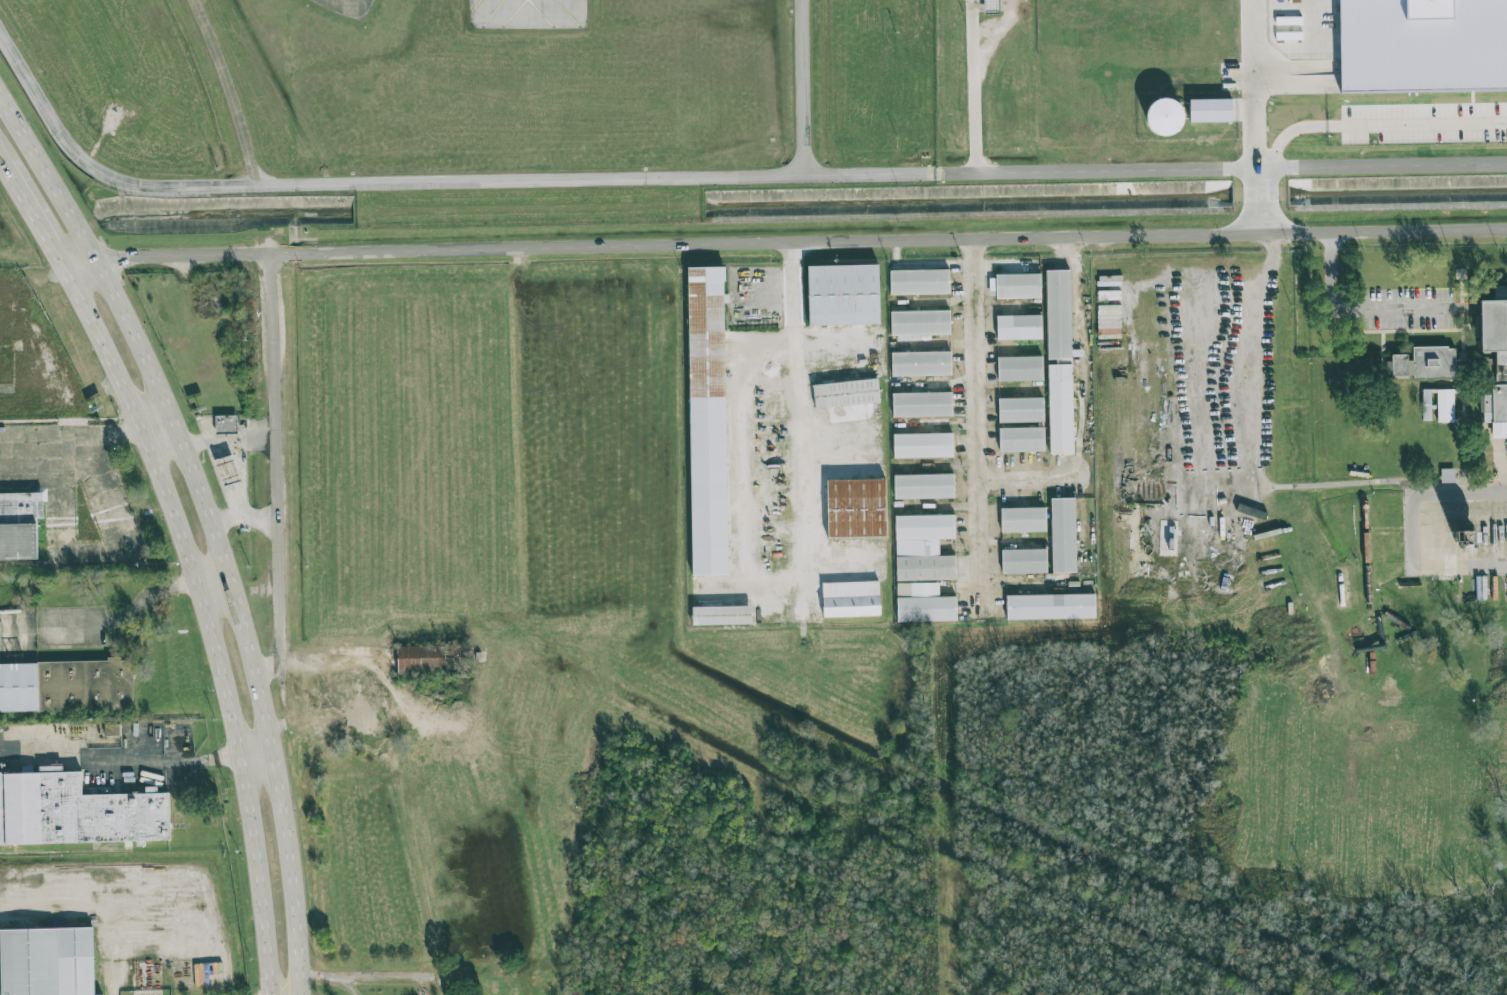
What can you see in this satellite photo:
building: (991, 6)
road: (997, 38)
building: (1422, 44)
road: (1259, 83)
road: (973, 86)
road: (802, 87)
road: (234, 89)
building: (1210, 110)
airport: (737, 115)
building: (1163, 116)
road: (1374, 125)
road: (5, 154)
road: (1383, 165)
road: (94, 167)
road: (1096, 169)
road: (869, 174)
road: (530, 179)
road: (1260, 199)
road: (40, 214)
road: (888, 237)
road: (170, 253)
building: (919, 282)
building: (1014, 286)
building: (843, 295)
road: (1385, 313)
building: (1058, 314)
building: (919, 323)
building: (1019, 327)
road: (829, 354)
building: (1494, 359)
building: (921, 363)
building: (1424, 363)
building: (1019, 368)
building: (845, 393)
building: (922, 404)
building: (1426, 405)
building: (1445, 405)
building: (1060, 409)
building: (1020, 410)
road: (811, 420)
building: (707, 421)
road: (982, 422)
building: (226, 423)
road: (164, 428)
road: (814, 431)
road: (22, 437)
road: (1250, 438)
building: (1021, 439)
road: (233, 440)
building: (923, 445)
road: (760, 449)
road: (277, 468)
building: (227, 470)
building: (1447, 475)
road: (1029, 481)
building: (923, 486)
road: (226, 499)
building: (856, 507)
road: (216, 517)
road: (225, 517)
building: (1023, 519)
building: (19, 526)
road: (68, 526)
road: (1410, 530)
road: (788, 534)
building: (1063, 535)
building: (923, 547)
building: (1024, 561)
road: (224, 594)
building: (850, 599)
building: (923, 603)
building: (1050, 607)
building: (721, 616)
road: (213, 618)
building: (66, 686)
building: (112, 730)
road: (258, 753)
road: (126, 758)
building: (76, 812)
building: (47, 961)
road: (360, 974)
road: (284, 983)
building: (101, 994)

